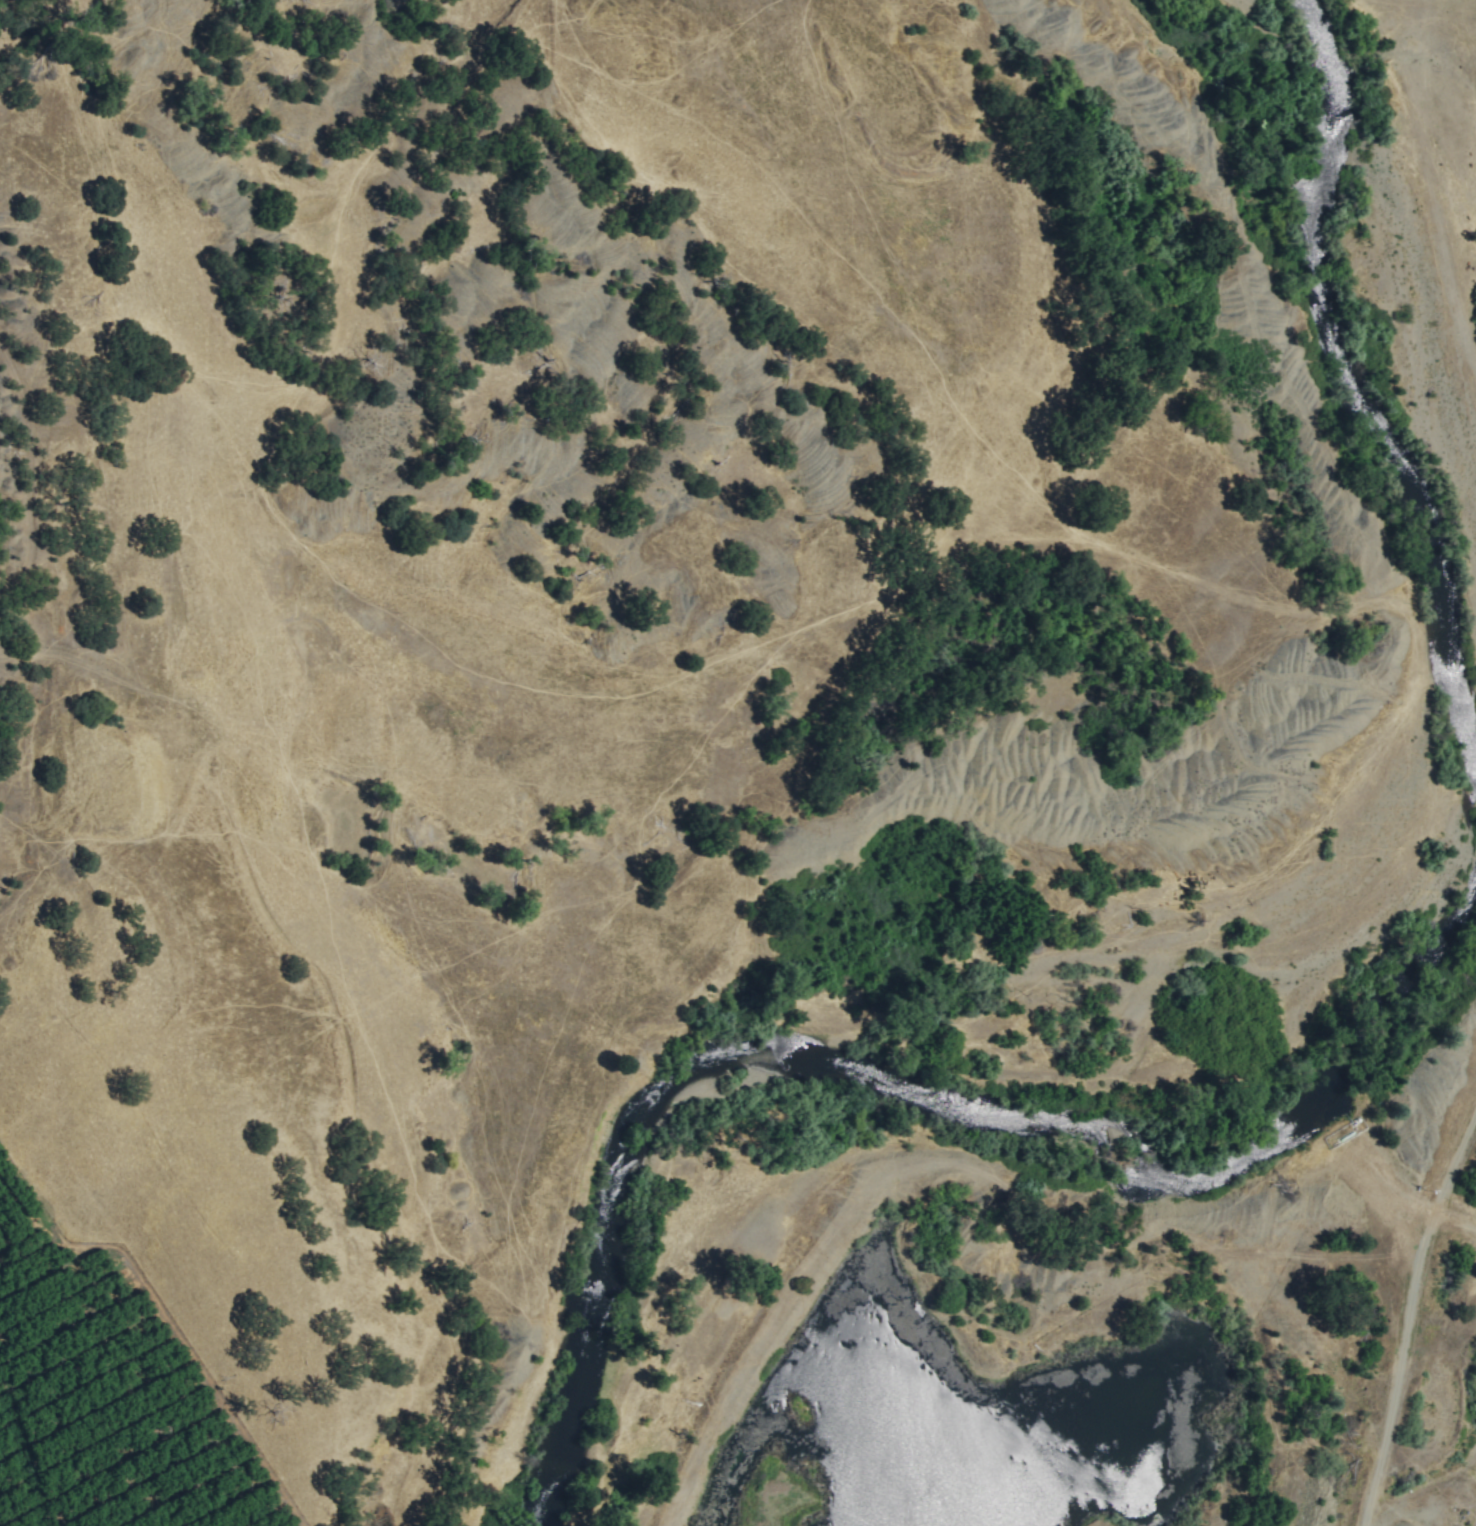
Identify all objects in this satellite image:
river: (1323, 1050)
crop: (105, 1388)
crop: (1438, 1410)
crop: (1138, 1524)

